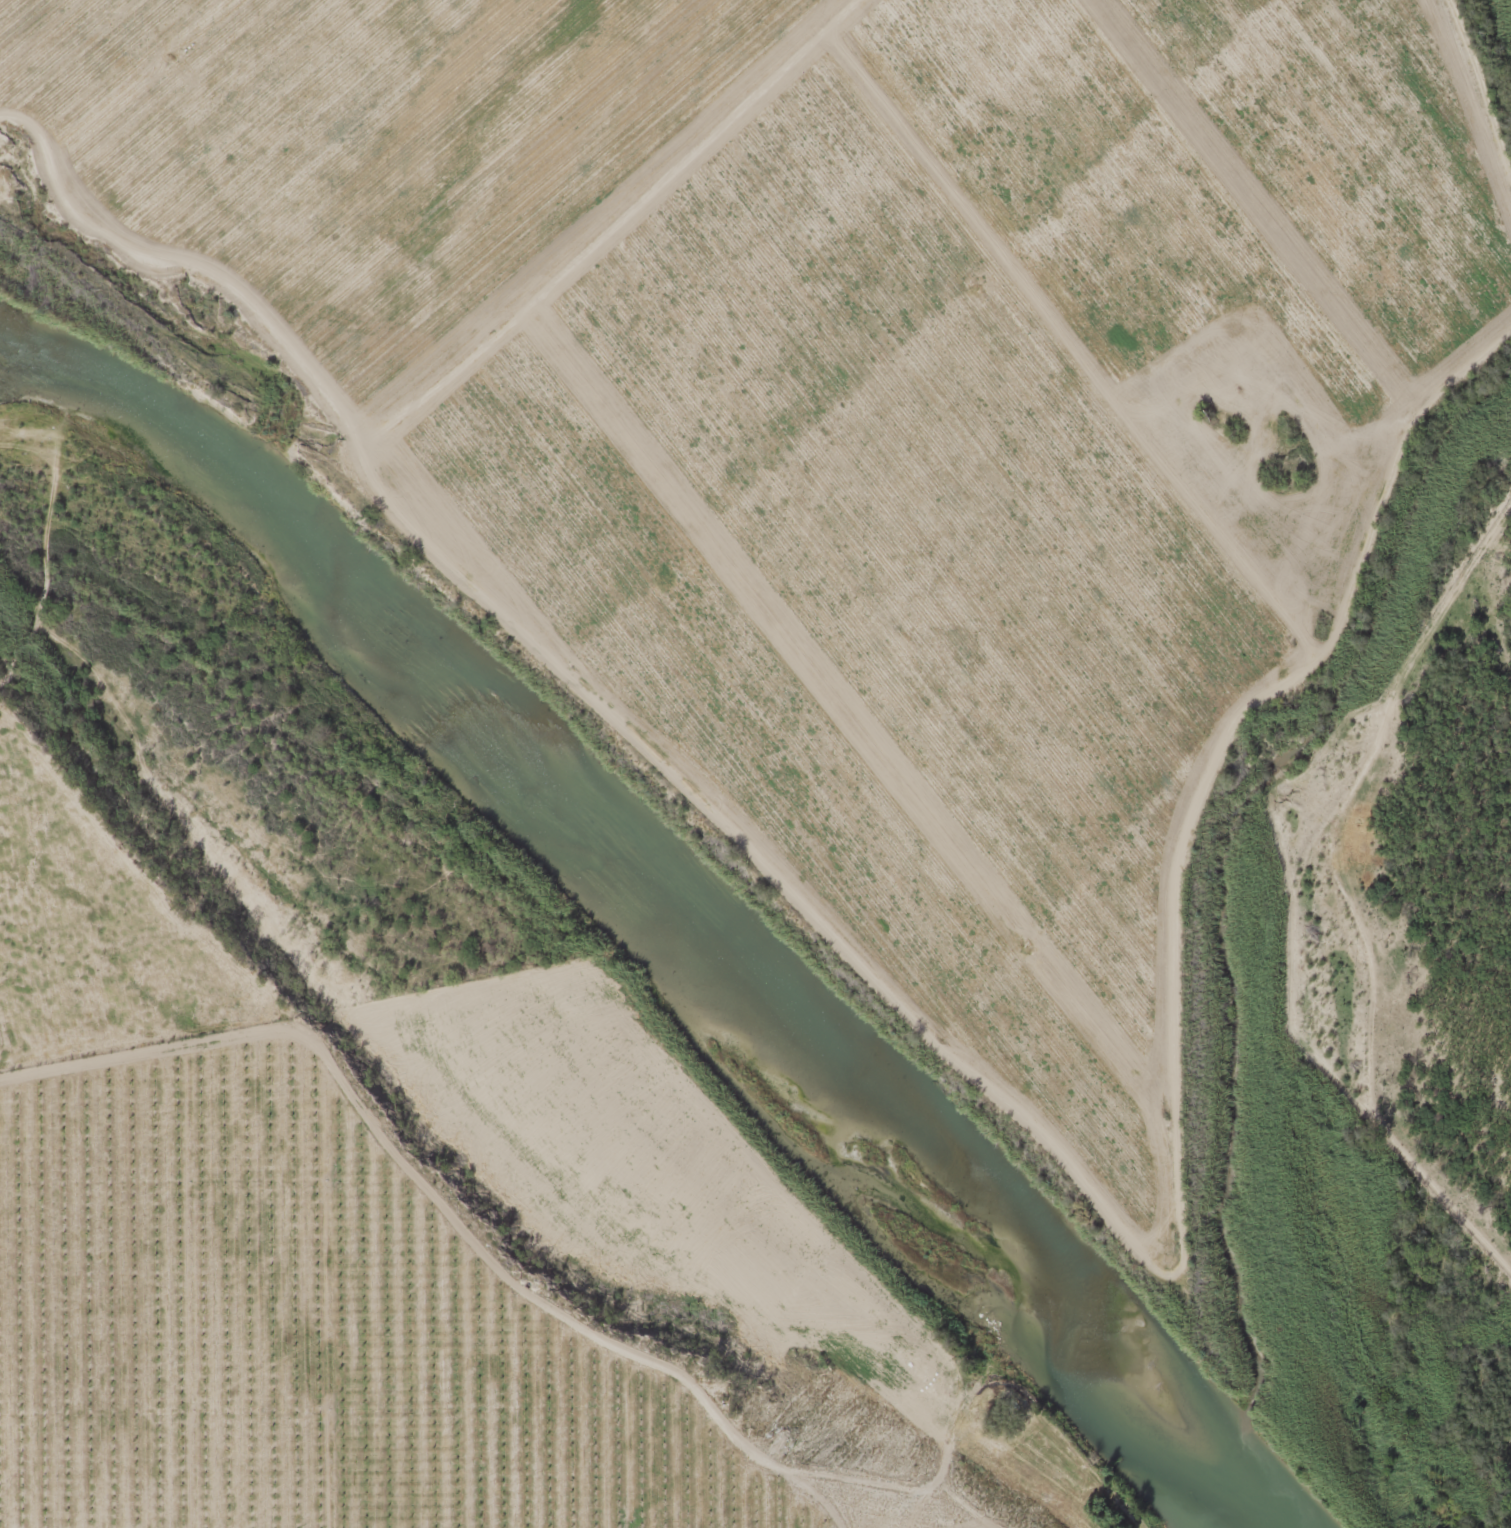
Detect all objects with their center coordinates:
road: (607, 237)
road: (175, 336)
river: (657, 903)

